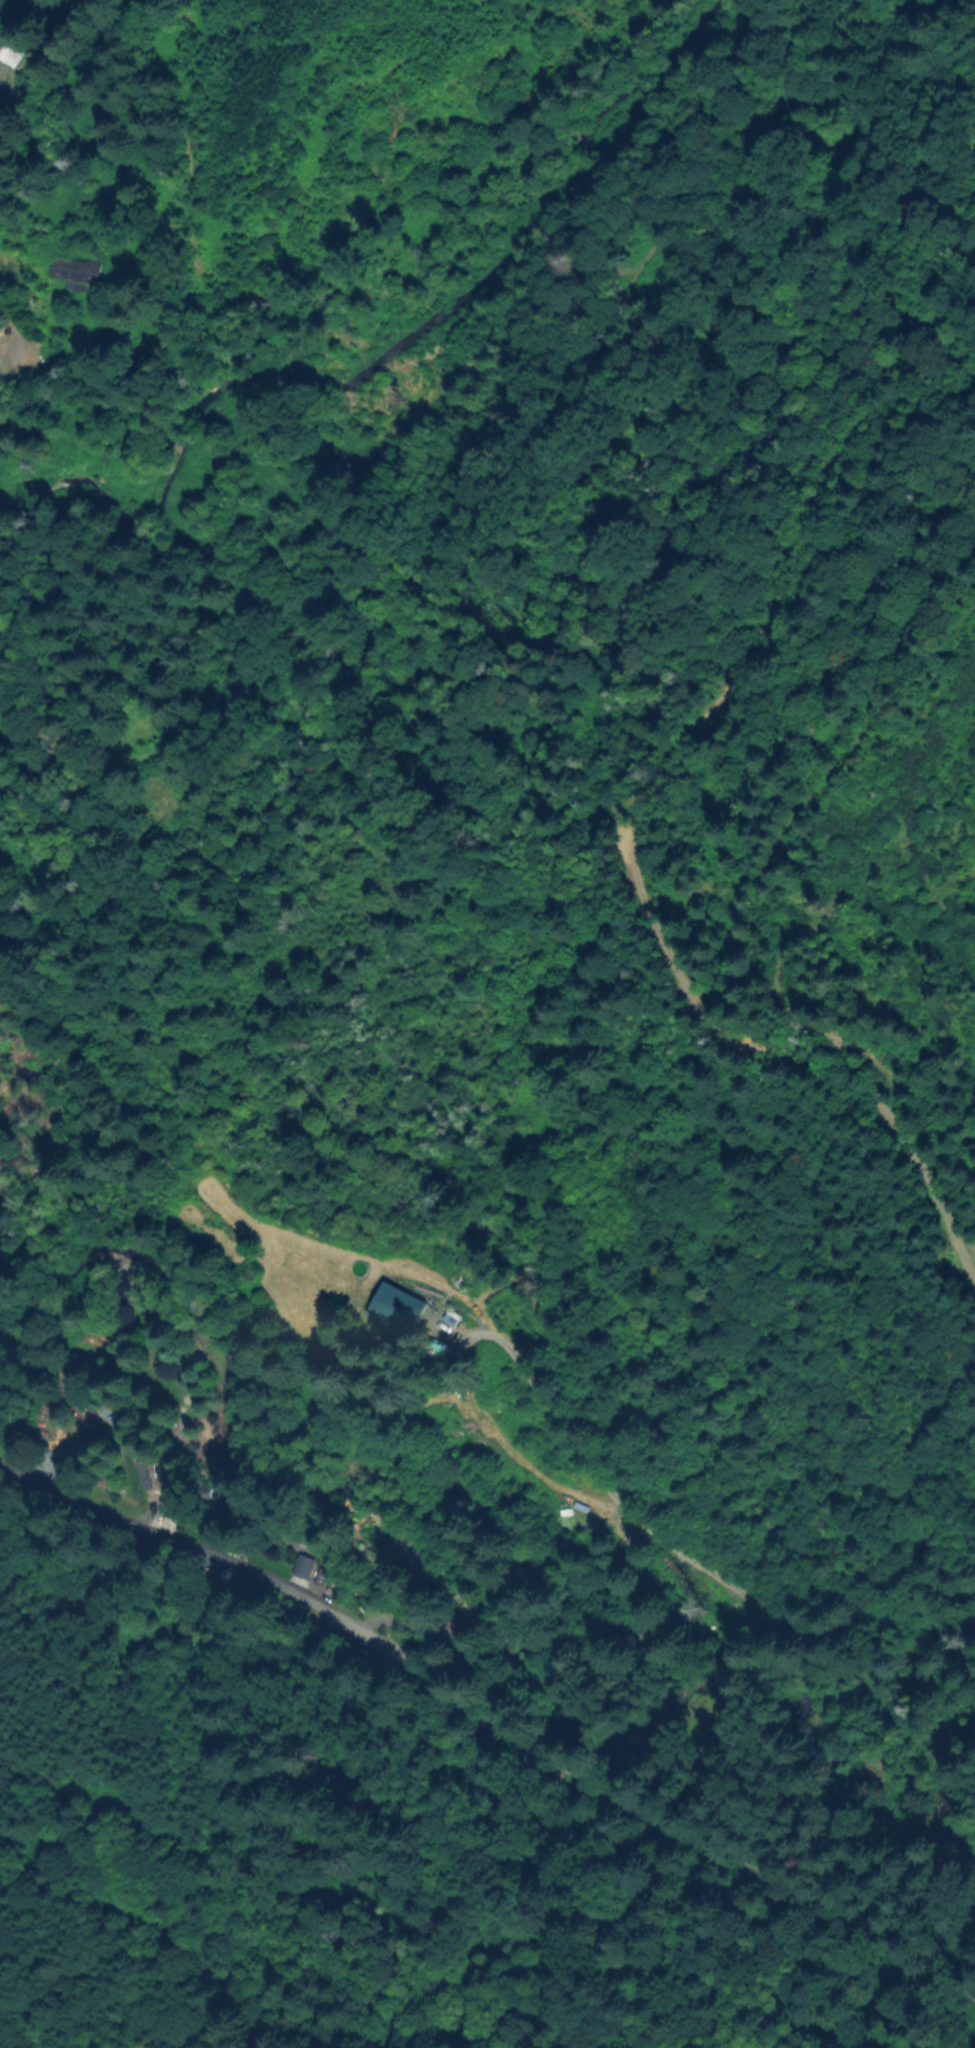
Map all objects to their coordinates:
building: (12, 51)
road: (40, 72)
building: (78, 273)
building: (252, 1273)
building: (406, 1313)
building: (148, 1479)
road: (206, 1552)
building: (302, 1569)
road: (845, 1633)
road: (475, 1668)

